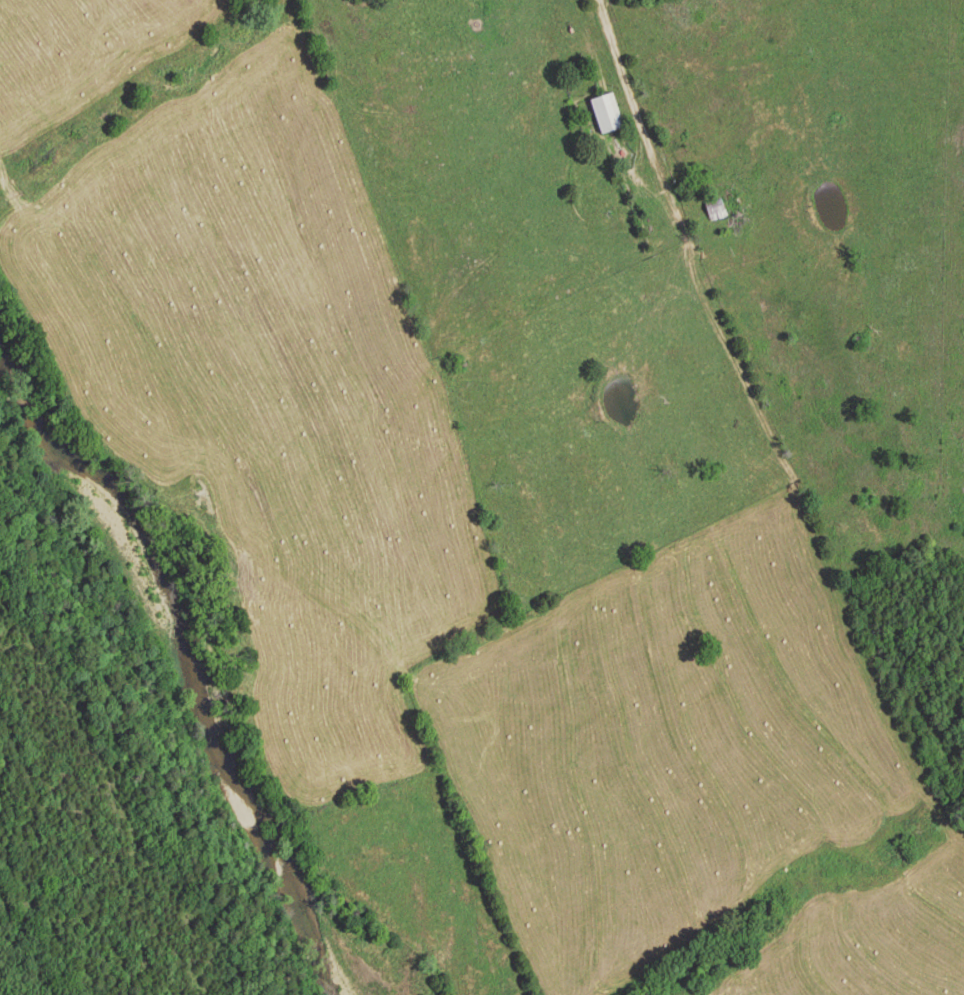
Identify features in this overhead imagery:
building: (608, 113)
road: (661, 129)

